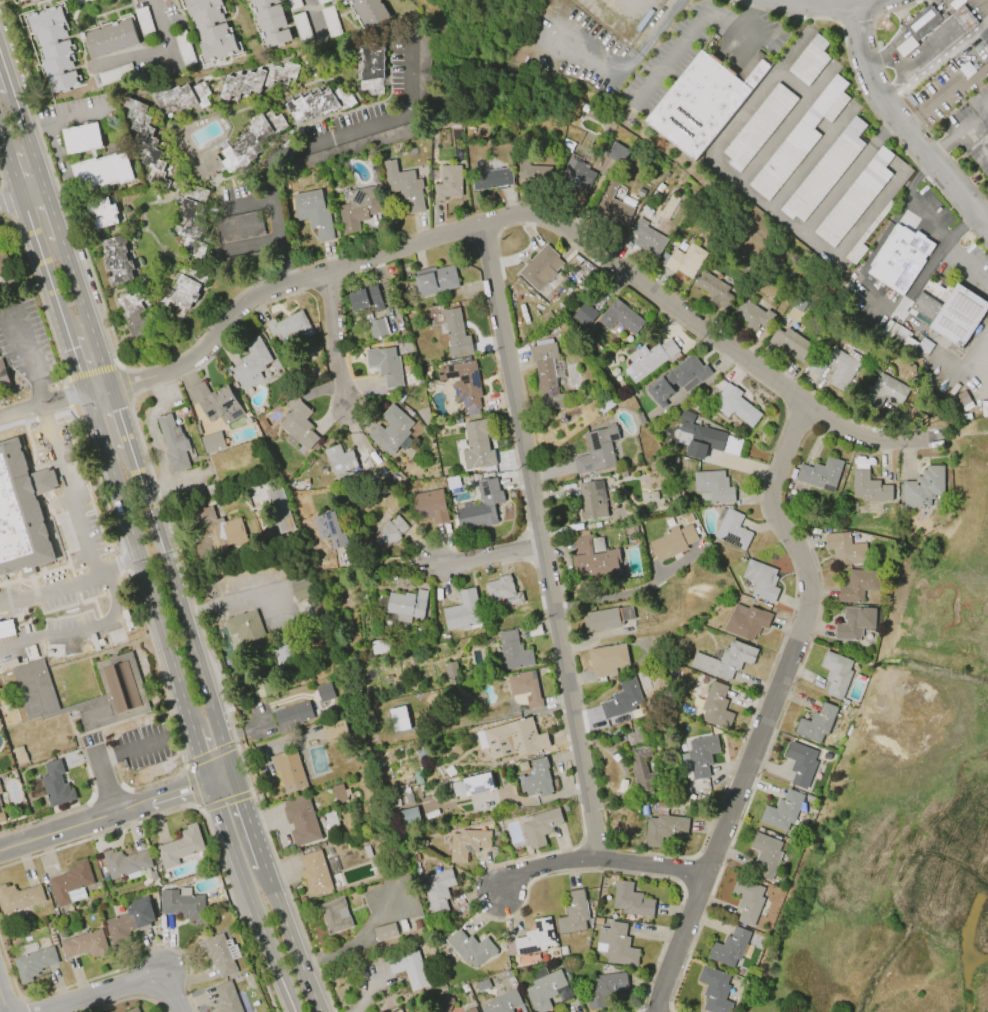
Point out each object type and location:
building: (18, 0)
building: (21, 0)
building: (245, 0)
building: (321, 1)
road: (846, 1)
building: (293, 4)
road: (984, 6)
road: (621, 8)
road: (974, 9)
building: (367, 10)
road: (976, 12)
road: (961, 15)
road: (978, 15)
road: (735, 17)
building: (965, 20)
building: (330, 21)
road: (966, 21)
building: (144, 22)
building: (270, 22)
road: (314, 22)
building: (922, 22)
road: (970, 26)
building: (301, 27)
road: (953, 27)
building: (211, 28)
road: (955, 30)
road: (957, 32)
road: (653, 33)
road: (165, 36)
building: (984, 36)
building: (109, 38)
road: (752, 39)
road: (897, 39)
building: (906, 46)
building: (54, 48)
building: (183, 48)
road: (583, 53)
road: (127, 58)
road: (921, 59)
road: (670, 60)
building: (809, 61)
building: (371, 67)
building: (966, 69)
building: (115, 74)
building: (256, 79)
building: (424, 80)
building: (181, 97)
building: (318, 104)
building: (700, 104)
road: (901, 125)
road: (971, 125)
building: (758, 126)
building: (81, 138)
road: (978, 139)
building: (798, 140)
building: (146, 142)
building: (567, 145)
road: (317, 146)
building: (241, 148)
road: (943, 150)
building: (616, 152)
road: (809, 159)
road: (710, 160)
building: (533, 169)
building: (102, 171)
building: (825, 172)
building: (575, 176)
building: (492, 179)
building: (448, 183)
building: (404, 186)
building: (654, 195)
building: (855, 198)
road: (11, 203)
road: (248, 204)
building: (612, 206)
building: (356, 209)
building: (102, 212)
building: (314, 213)
road: (530, 216)
building: (195, 219)
road: (936, 225)
building: (238, 226)
road: (853, 231)
building: (647, 237)
building: (866, 237)
building: (117, 259)
building: (900, 260)
building: (685, 261)
building: (2, 265)
building: (540, 268)
building: (435, 280)
building: (714, 290)
building: (184, 293)
building: (366, 298)
road: (883, 309)
building: (750, 314)
building: (953, 314)
building: (132, 315)
building: (583, 315)
building: (621, 317)
building: (289, 326)
building: (377, 328)
building: (454, 333)
road: (332, 341)
building: (789, 343)
road: (27, 352)
building: (648, 359)
building: (250, 363)
building: (275, 364)
building: (385, 365)
building: (835, 367)
building: (547, 373)
building: (3, 375)
building: (679, 379)
building: (463, 384)
building: (886, 391)
building: (960, 399)
building: (216, 403)
building: (607, 404)
building: (735, 405)
road: (40, 413)
road: (119, 416)
building: (688, 417)
building: (640, 419)
road: (46, 423)
building: (298, 427)
building: (391, 431)
building: (701, 439)
building: (212, 442)
building: (173, 444)
building: (477, 446)
building: (597, 451)
road: (107, 452)
building: (340, 461)
building: (818, 474)
building: (713, 486)
building: (923, 487)
building: (869, 488)
building: (592, 500)
road: (68, 504)
building: (430, 506)
building: (480, 506)
building: (279, 510)
building: (603, 522)
building: (330, 529)
building: (731, 529)
building: (215, 532)
building: (387, 533)
road: (542, 542)
building: (672, 542)
building: (844, 549)
road: (488, 555)
building: (594, 558)
road: (124, 571)
building: (761, 580)
building: (858, 584)
building: (301, 586)
building: (502, 590)
road: (54, 591)
road: (628, 593)
road: (236, 603)
road: (109, 604)
building: (403, 605)
building: (462, 612)
building: (606, 619)
building: (747, 621)
building: (855, 622)
building: (245, 627)
road: (54, 635)
building: (378, 646)
building: (510, 653)
building: (282, 654)
building: (607, 659)
building: (725, 660)
building: (450, 669)
building: (836, 674)
building: (120, 681)
building: (525, 687)
building: (324, 692)
building: (621, 699)
road: (769, 705)
building: (716, 706)
building: (292, 716)
building: (398, 719)
building: (816, 723)
building: (335, 729)
building: (513, 739)
road: (268, 749)
road: (131, 751)
building: (20, 755)
building: (699, 756)
building: (801, 763)
building: (288, 770)
building: (640, 770)
traffic signals: (231, 774)
building: (416, 776)
road: (219, 777)
building: (536, 779)
road: (105, 781)
traffic signals: (208, 781)
building: (478, 784)
building: (53, 785)
building: (456, 788)
building: (0, 791)
building: (338, 793)
building: (408, 798)
building: (782, 811)
building: (1, 812)
road: (103, 815)
building: (409, 816)
building: (330, 819)
building: (300, 820)
building: (540, 825)
building: (663, 825)
building: (466, 843)
building: (180, 846)
building: (764, 856)
road: (595, 859)
building: (126, 864)
building: (314, 873)
building: (152, 876)
building: (71, 883)
building: (438, 890)
road: (273, 893)
building: (20, 896)
road: (250, 897)
building: (631, 900)
building: (748, 900)
building: (183, 904)
building: (575, 912)
building: (334, 914)
building: (127, 923)
building: (385, 932)
building: (536, 937)
building: (86, 943)
road: (354, 945)
building: (617, 945)
building: (470, 948)
building: (730, 948)
building: (217, 954)
building: (35, 961)
building: (409, 969)
road: (120, 986)
building: (605, 987)
building: (545, 990)
building: (714, 990)
building: (226, 998)
road: (3, 1000)
building: (504, 1002)
building: (445, 1004)
building: (133, 1010)
building: (473, 1010)

